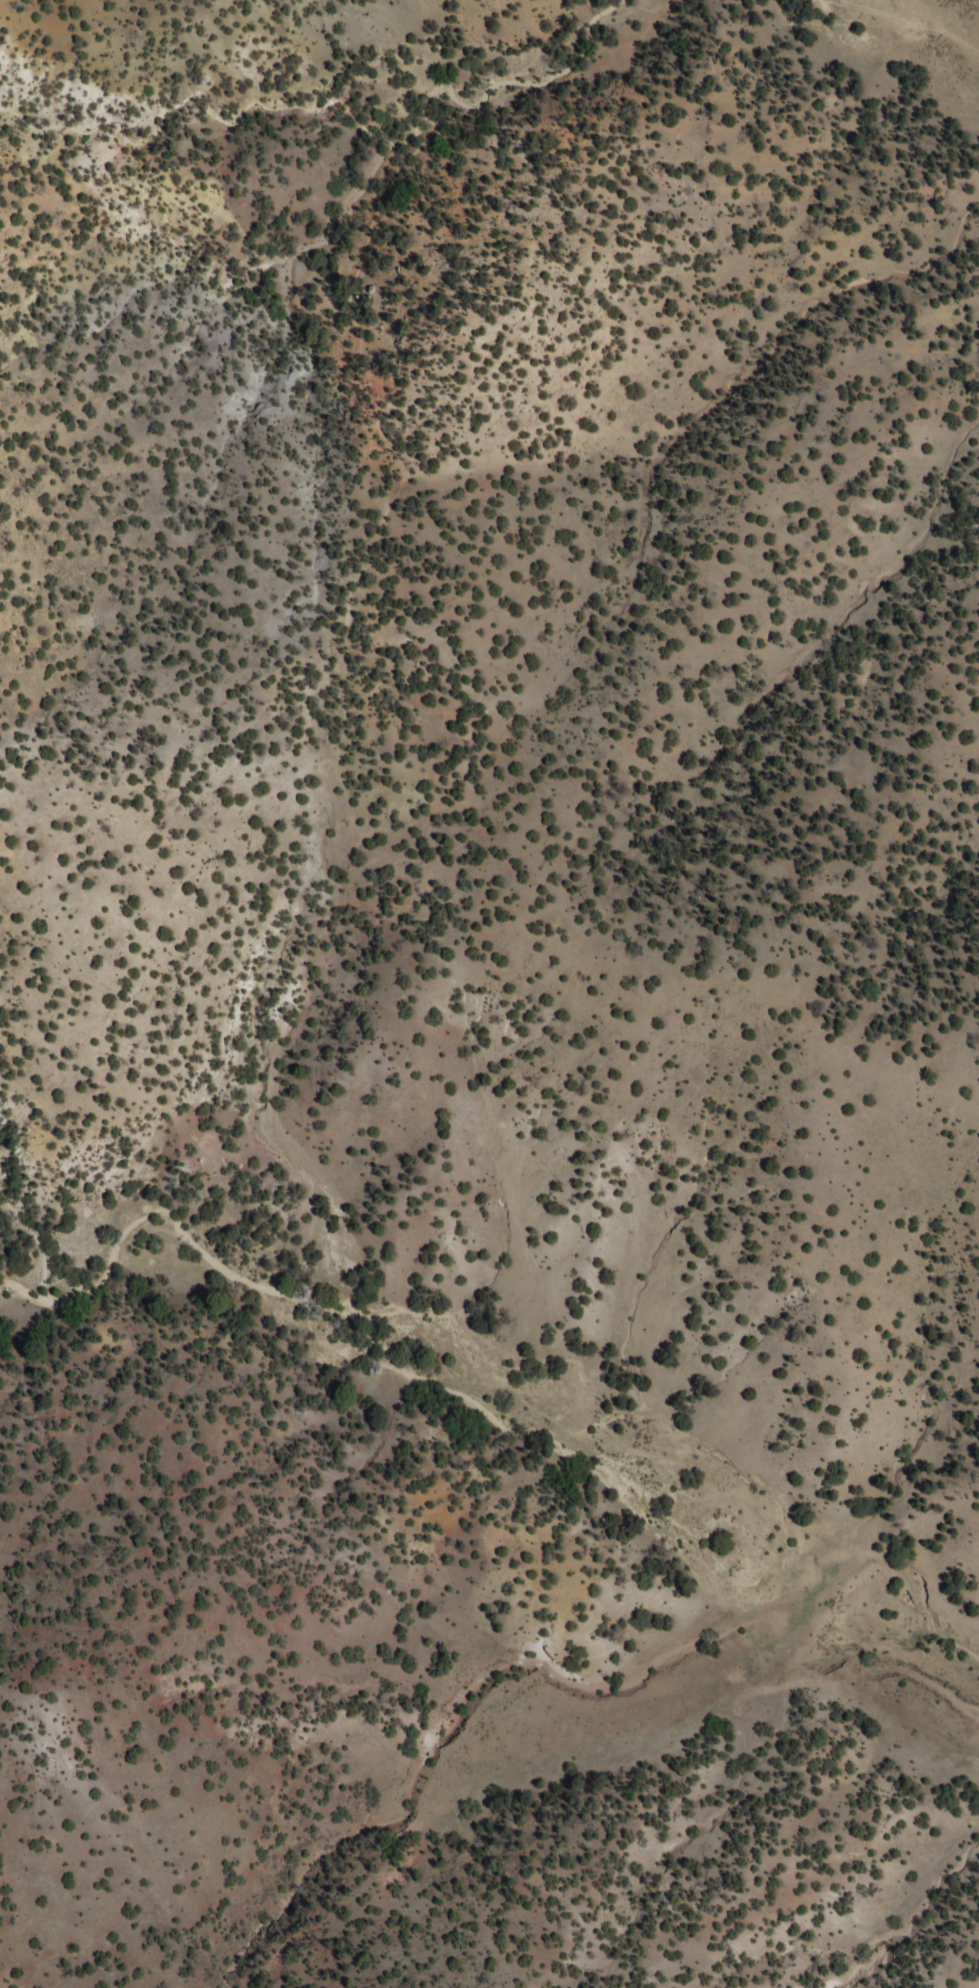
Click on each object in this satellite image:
road: (923, 26)
road: (833, 1687)

